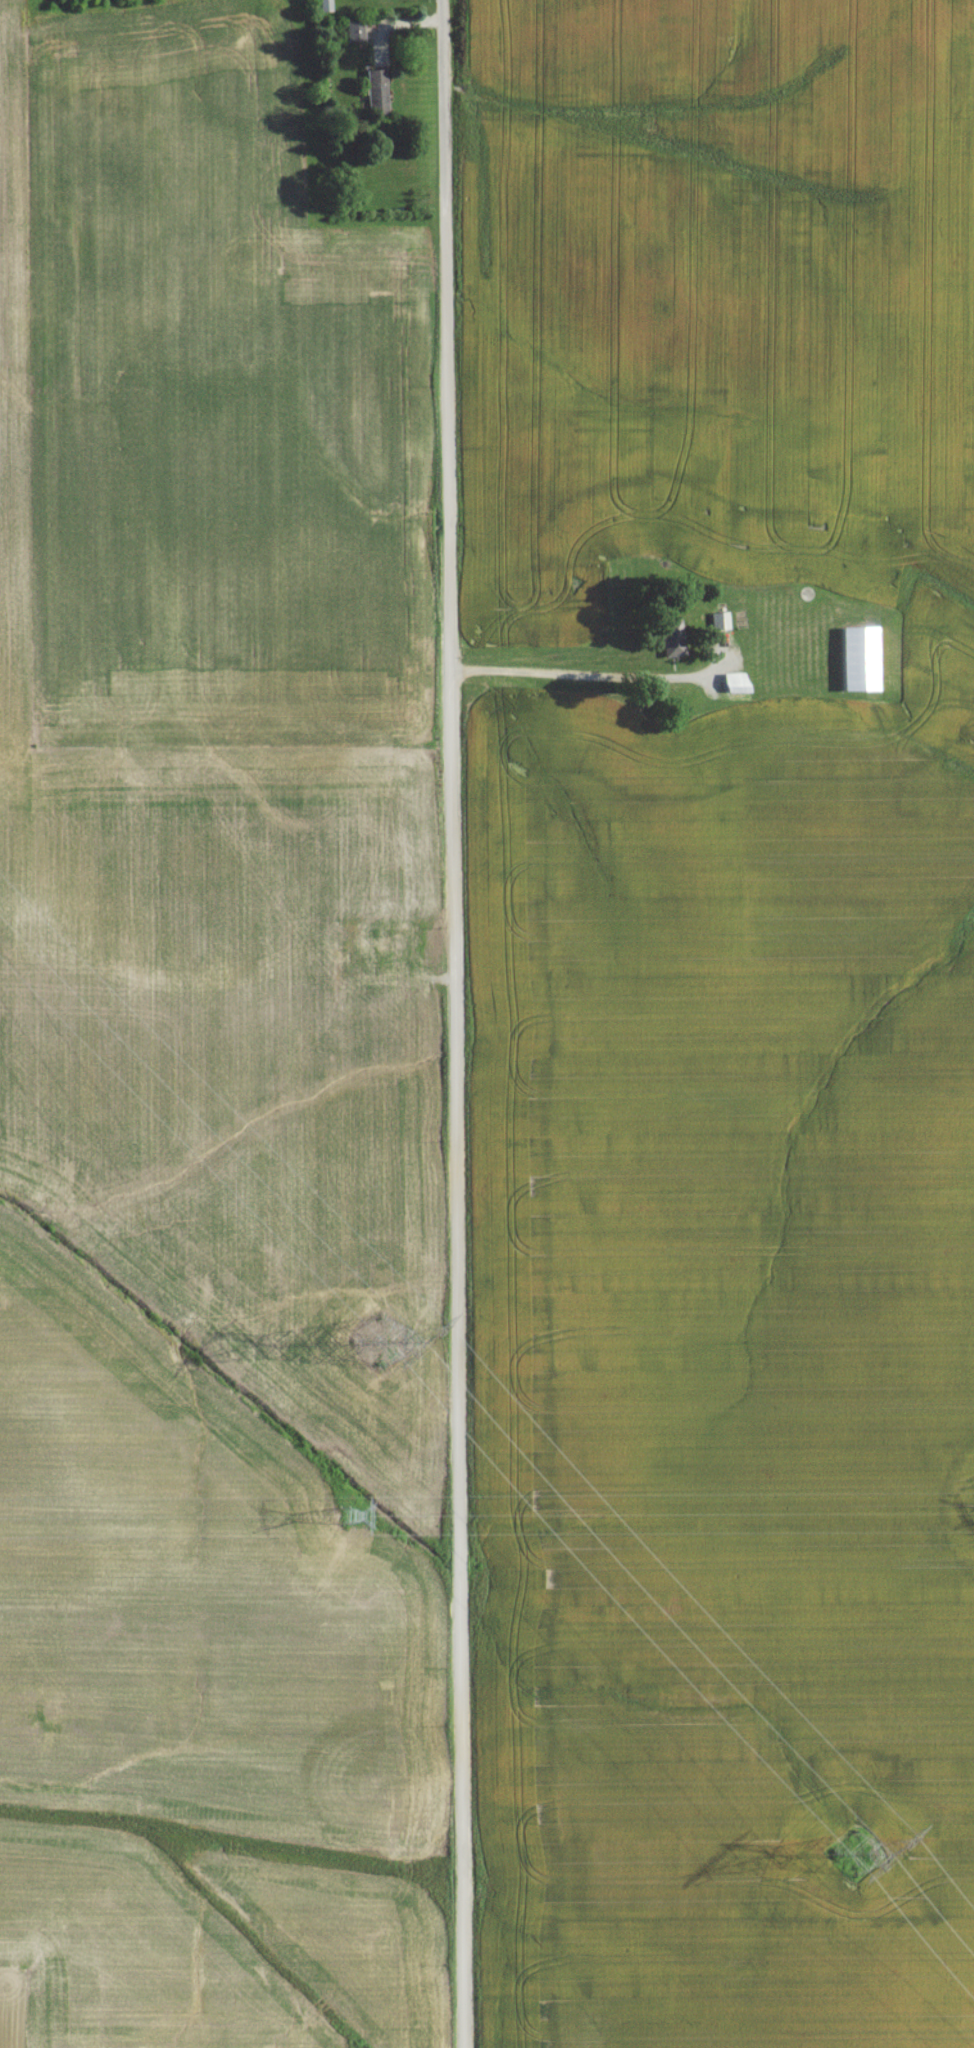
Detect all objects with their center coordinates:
building: (317, 0)
building: (376, 90)
building: (720, 626)
building: (673, 649)
building: (859, 660)
road: (576, 677)
road: (453, 1023)
power tower: (382, 1344)
power tower: (338, 1519)
power tower: (850, 1866)

